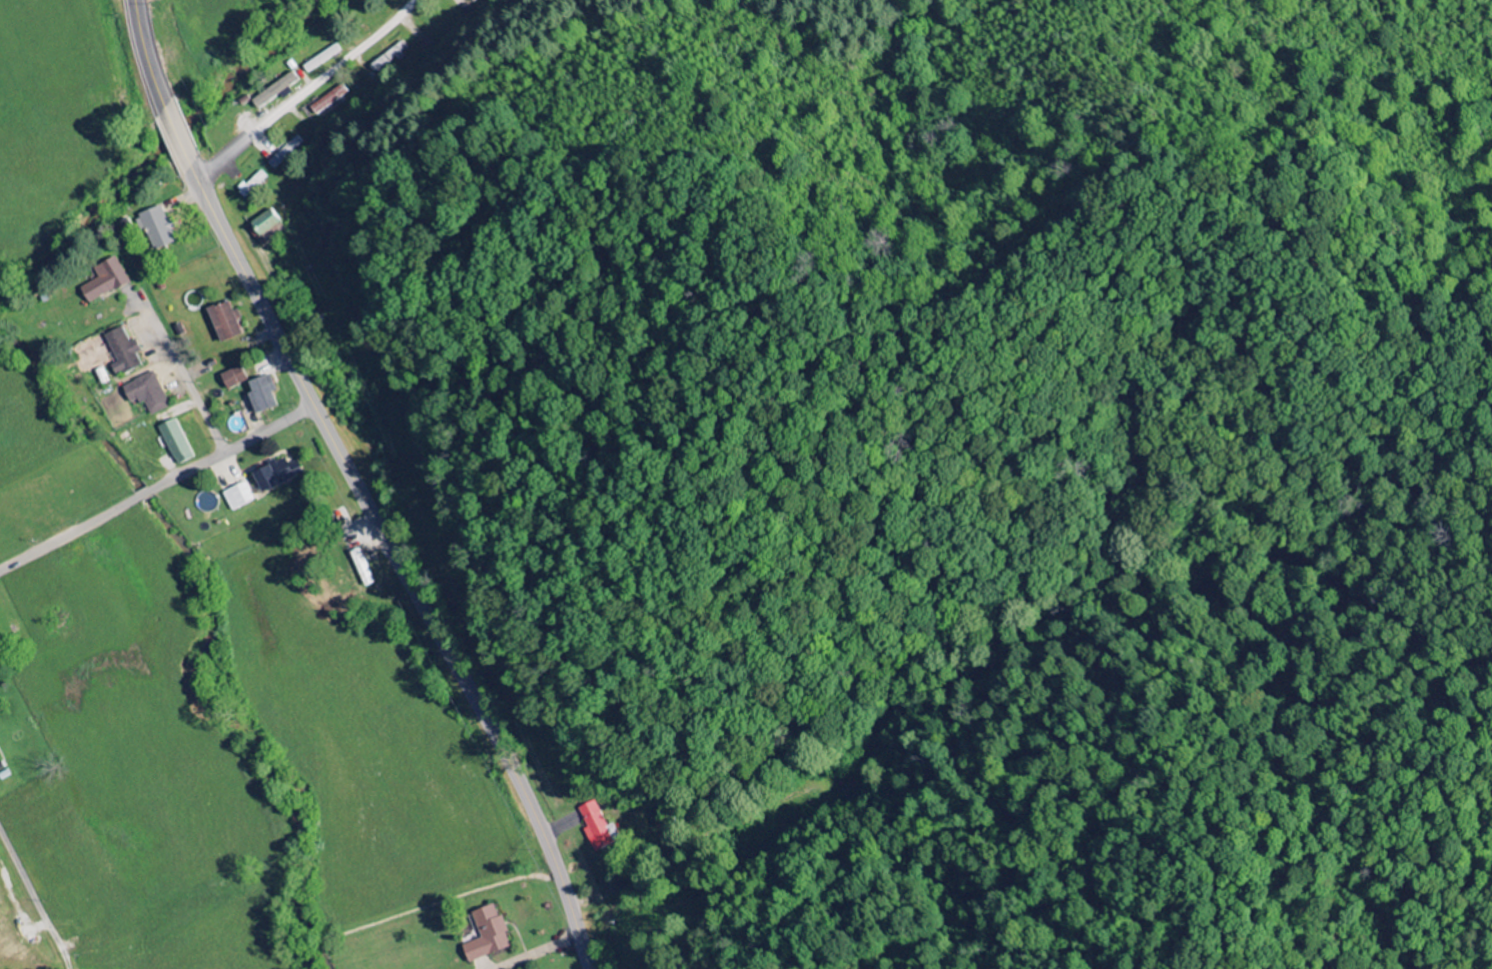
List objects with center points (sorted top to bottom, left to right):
building: (470, 1)
road: (146, 53)
building: (281, 90)
road: (306, 90)
building: (330, 100)
road: (177, 136)
river: (166, 146)
building: (267, 226)
building: (164, 228)
building: (110, 280)
building: (229, 322)
building: (126, 352)
road: (184, 373)
building: (236, 378)
building: (150, 393)
building: (266, 394)
building: (179, 442)
road: (232, 448)
building: (280, 474)
road: (143, 494)
building: (240, 497)
road: (68, 535)
road: (398, 564)
river: (207, 646)
building: (595, 827)
road: (35, 897)
building: (485, 934)

